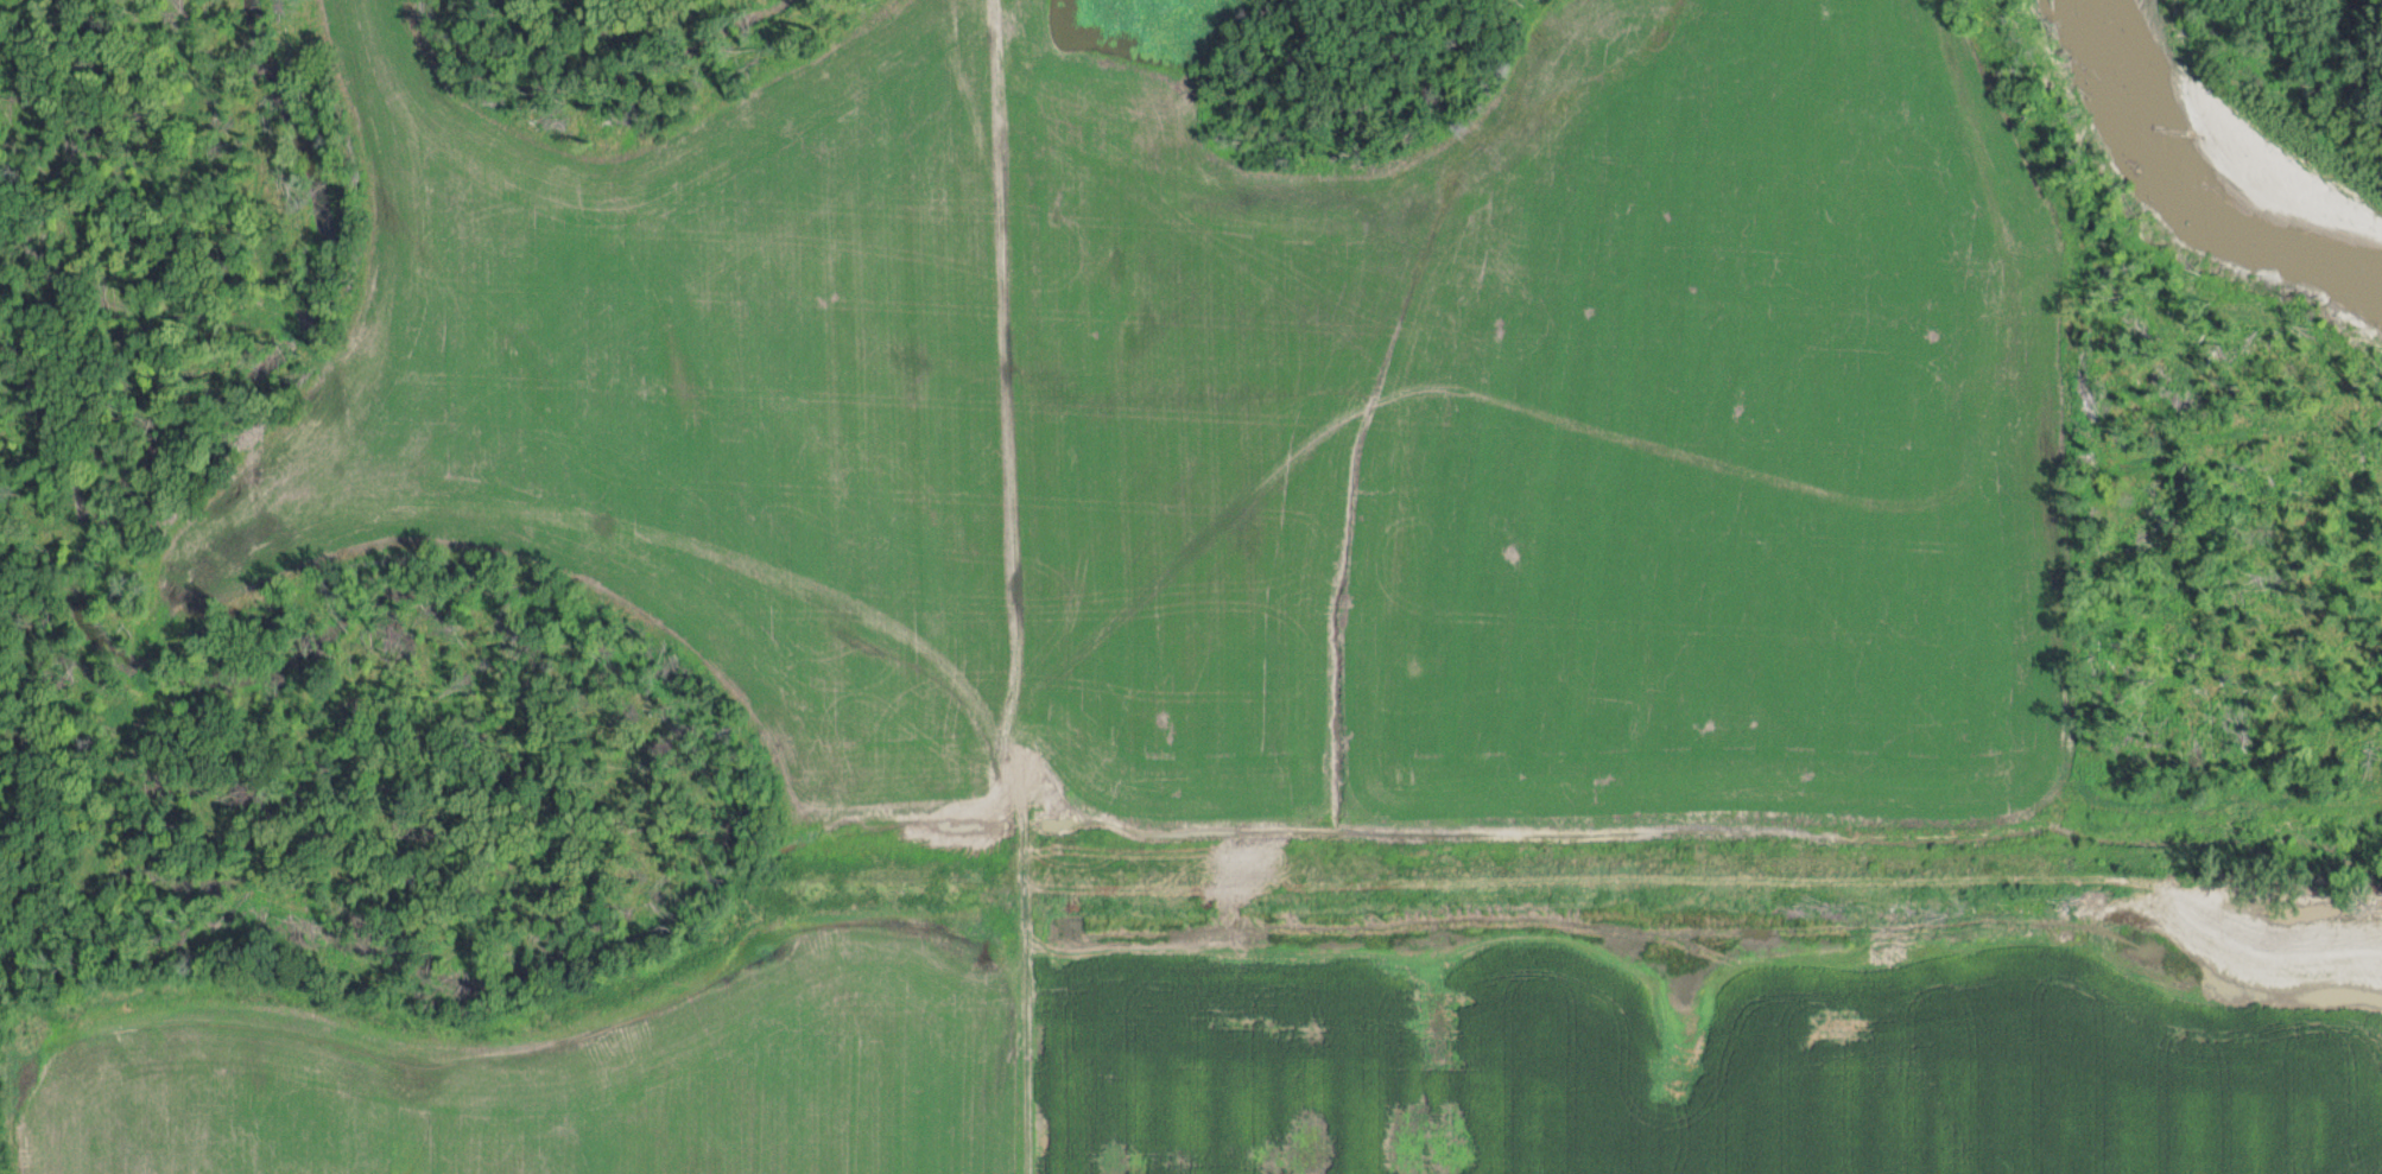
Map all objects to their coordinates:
river: (2204, 158)

